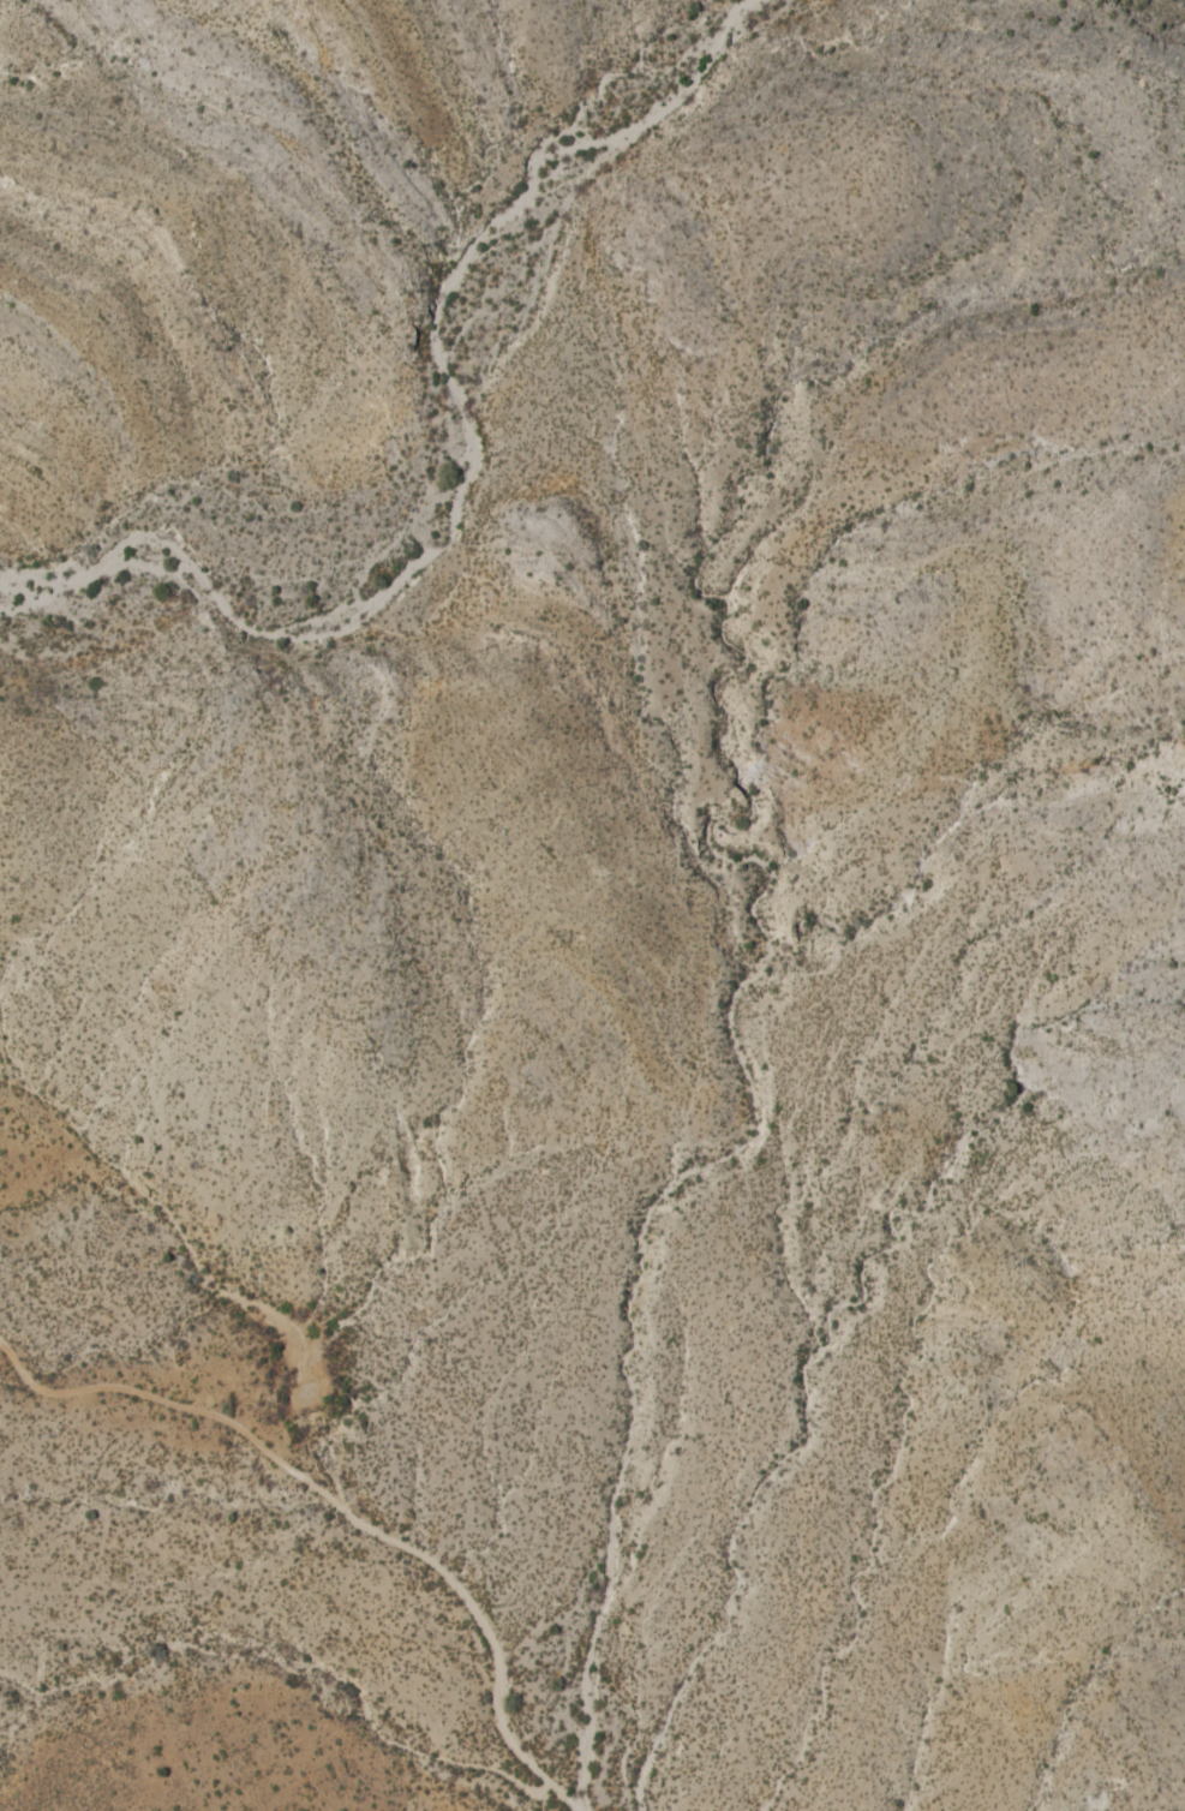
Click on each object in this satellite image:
road: (343, 1510)

